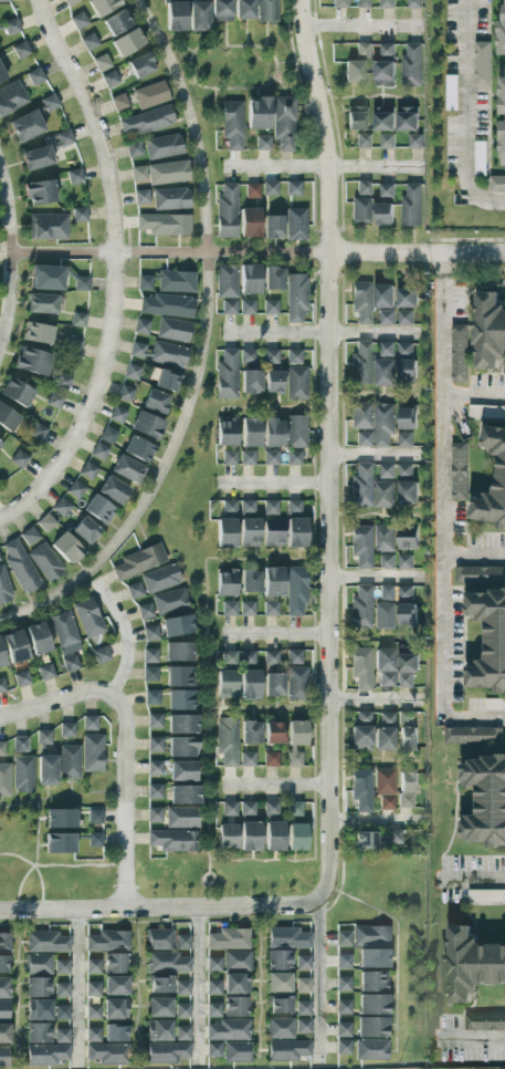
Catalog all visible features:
building: (4, 0)
building: (69, 1)
building: (339, 3)
building: (362, 3)
building: (386, 3)
building: (413, 3)
building: (103, 6)
building: (243, 9)
building: (221, 10)
building: (266, 10)
building: (176, 15)
building: (198, 15)
building: (78, 20)
building: (116, 22)
road: (357, 27)
building: (503, 28)
building: (88, 41)
building: (127, 42)
building: (362, 49)
building: (386, 49)
building: (20, 50)
road: (190, 55)
building: (102, 62)
building: (481, 63)
building: (411, 64)
building: (140, 65)
building: (353, 71)
building: (383, 72)
building: (1, 75)
building: (34, 76)
building: (109, 79)
building: (450, 92)
building: (150, 94)
road: (369, 95)
building: (11, 97)
building: (118, 102)
building: (48, 103)
building: (383, 107)
building: (259, 113)
road: (462, 116)
building: (356, 117)
building: (407, 117)
building: (146, 121)
building: (383, 121)
building: (283, 123)
building: (503, 123)
building: (232, 124)
building: (25, 126)
building: (60, 138)
building: (415, 139)
building: (362, 141)
building: (387, 141)
building: (262, 142)
building: (162, 146)
building: (133, 148)
building: (36, 157)
building: (478, 162)
road: (318, 167)
building: (138, 173)
building: (168, 173)
building: (74, 176)
building: (496, 183)
building: (364, 187)
building: (270, 188)
building: (293, 188)
building: (252, 190)
building: (40, 191)
building: (141, 196)
building: (170, 198)
building: (383, 205)
building: (411, 205)
building: (361, 209)
building: (227, 211)
building: (80, 214)
building: (250, 222)
building: (164, 224)
building: (295, 224)
building: (48, 227)
building: (273, 227)
road: (256, 251)
road: (3, 252)
road: (2, 259)
road: (9, 261)
road: (442, 262)
road: (113, 269)
building: (46, 277)
building: (274, 278)
building: (250, 279)
building: (176, 281)
building: (225, 281)
building: (145, 282)
building: (82, 283)
building: (383, 295)
building: (295, 297)
building: (407, 297)
building: (361, 302)
building: (42, 303)
building: (166, 305)
building: (229, 307)
building: (248, 307)
building: (270, 307)
building: (386, 316)
building: (404, 316)
building: (77, 319)
building: (140, 326)
building: (491, 329)
building: (172, 330)
road: (323, 330)
building: (36, 332)
building: (74, 344)
road: (201, 344)
building: (386, 349)
building: (137, 350)
building: (404, 350)
building: (459, 352)
building: (168, 354)
building: (246, 355)
building: (270, 356)
building: (293, 356)
building: (31, 361)
building: (360, 363)
building: (407, 370)
building: (131, 372)
building: (383, 372)
building: (227, 375)
building: (166, 380)
building: (250, 381)
building: (62, 382)
building: (273, 382)
building: (296, 382)
building: (15, 392)
road: (372, 392)
building: (125, 393)
road: (473, 394)
building: (54, 401)
building: (156, 402)
road: (272, 406)
building: (486, 411)
building: (117, 415)
building: (360, 415)
building: (8, 417)
building: (407, 417)
building: (383, 423)
building: (146, 425)
building: (227, 430)
building: (296, 430)
building: (36, 432)
building: (250, 432)
building: (273, 433)
building: (362, 438)
building: (404, 438)
building: (103, 443)
building: (0, 444)
building: (137, 448)
road: (329, 450)
road: (376, 454)
building: (270, 456)
building: (229, 457)
building: (246, 457)
building: (293, 457)
building: (19, 458)
building: (127, 468)
building: (404, 468)
building: (459, 469)
building: (87, 470)
building: (387, 470)
building: (501, 473)
road: (272, 481)
building: (360, 486)
building: (75, 489)
building: (113, 490)
building: (408, 491)
building: (383, 494)
building: (294, 505)
building: (246, 506)
building: (61, 507)
building: (271, 507)
building: (229, 508)
building: (98, 509)
road: (372, 513)
building: (45, 522)
road: (442, 526)
building: (85, 530)
building: (407, 531)
building: (250, 532)
building: (273, 532)
building: (296, 532)
building: (225, 533)
building: (29, 536)
building: (383, 538)
building: (407, 542)
building: (360, 546)
building: (66, 548)
road: (473, 554)
building: (386, 560)
building: (404, 560)
building: (139, 561)
building: (45, 562)
building: (20, 567)
building: (478, 574)
building: (160, 578)
road: (372, 579)
building: (250, 580)
building: (273, 581)
building: (227, 583)
building: (4, 587)
building: (135, 590)
building: (295, 590)
building: (386, 592)
building: (404, 592)
building: (169, 601)
building: (229, 608)
building: (246, 608)
building: (270, 608)
building: (360, 608)
road: (314, 610)
building: (145, 611)
building: (408, 614)
building: (383, 615)
building: (88, 617)
building: (177, 625)
building: (64, 632)
building: (150, 633)
road: (275, 634)
road: (124, 636)
building: (38, 637)
road: (375, 639)
building: (488, 639)
building: (14, 646)
building: (178, 651)
road: (206, 653)
building: (1, 655)
building: (101, 655)
building: (149, 655)
building: (229, 656)
building: (248, 656)
building: (294, 656)
building: (270, 657)
building: (70, 663)
building: (383, 666)
building: (361, 667)
building: (407, 668)
building: (45, 671)
building: (149, 674)
building: (179, 676)
building: (21, 678)
building: (296, 683)
building: (227, 684)
building: (250, 684)
building: (273, 684)
building: (1, 685)
road: (376, 696)
building: (151, 697)
building: (181, 699)
road: (49, 700)
building: (494, 703)
road: (269, 707)
building: (154, 720)
building: (90, 723)
building: (182, 724)
building: (66, 729)
building: (407, 730)
building: (250, 731)
building: (361, 731)
building: (385, 731)
building: (273, 733)
building: (472, 734)
building: (43, 737)
building: (227, 740)
building: (295, 740)
building: (20, 744)
building: (155, 744)
building: (182, 746)
building: (1, 748)
building: (92, 753)
building: (271, 758)
building: (248, 759)
building: (70, 761)
building: (155, 768)
building: (46, 769)
building: (182, 770)
building: (22, 774)
building: (4, 779)
road: (278, 786)
building: (385, 787)
building: (361, 789)
building: (406, 789)
building: (155, 790)
road: (61, 793)
road: (124, 793)
building: (185, 793)
building: (486, 799)
building: (270, 807)
building: (229, 808)
building: (248, 808)
building: (295, 808)
building: (155, 814)
building: (94, 816)
building: (181, 817)
building: (60, 818)
road: (376, 820)
building: (250, 834)
building: (227, 836)
building: (274, 836)
building: (296, 837)
building: (389, 837)
building: (94, 839)
building: (365, 839)
building: (172, 840)
building: (60, 843)
road: (60, 865)
road: (208, 872)
road: (470, 879)
road: (41, 886)
building: (485, 894)
road: (208, 896)
road: (159, 909)
road: (14, 928)
building: (370, 935)
building: (287, 937)
building: (344, 937)
building: (229, 938)
building: (159, 940)
building: (108, 941)
building: (46, 942)
building: (182, 942)
building: (4, 943)
road: (397, 948)
building: (374, 957)
building: (278, 959)
building: (236, 961)
building: (303, 962)
building: (343, 962)
building: (116, 963)
building: (167, 963)
building: (3, 964)
building: (38, 964)
building: (213, 964)
building: (472, 964)
building: (62, 966)
building: (93, 966)
building: (278, 982)
building: (374, 982)
road: (257, 983)
road: (318, 983)
building: (236, 984)
building: (343, 984)
building: (116, 985)
road: (137, 985)
building: (159, 985)
building: (303, 985)
road: (77, 986)
road: (197, 986)
building: (4, 987)
building: (38, 987)
building: (182, 987)
building: (213, 987)
building: (93, 988)
building: (62, 989)
building: (372, 1004)
building: (280, 1005)
building: (235, 1006)
building: (343, 1006)
building: (159, 1007)
building: (303, 1007)
building: (115, 1008)
building: (39, 1009)
building: (213, 1009)
building: (4, 1010)
building: (182, 1010)
building: (93, 1011)
building: (62, 1013)
building: (483, 1021)
building: (303, 1026)
building: (371, 1027)
building: (280, 1028)
building: (343, 1029)
building: (158, 1030)
building: (229, 1030)
building: (4, 1032)
building: (39, 1032)
building: (115, 1032)
building: (182, 1032)
building: (93, 1034)
building: (62, 1035)
road: (470, 1038)
building: (343, 1047)
building: (213, 1049)
building: (287, 1049)
building: (371, 1049)
building: (168, 1051)
building: (236, 1051)
building: (107, 1052)
building: (46, 1054)
building: (3, 1056)

